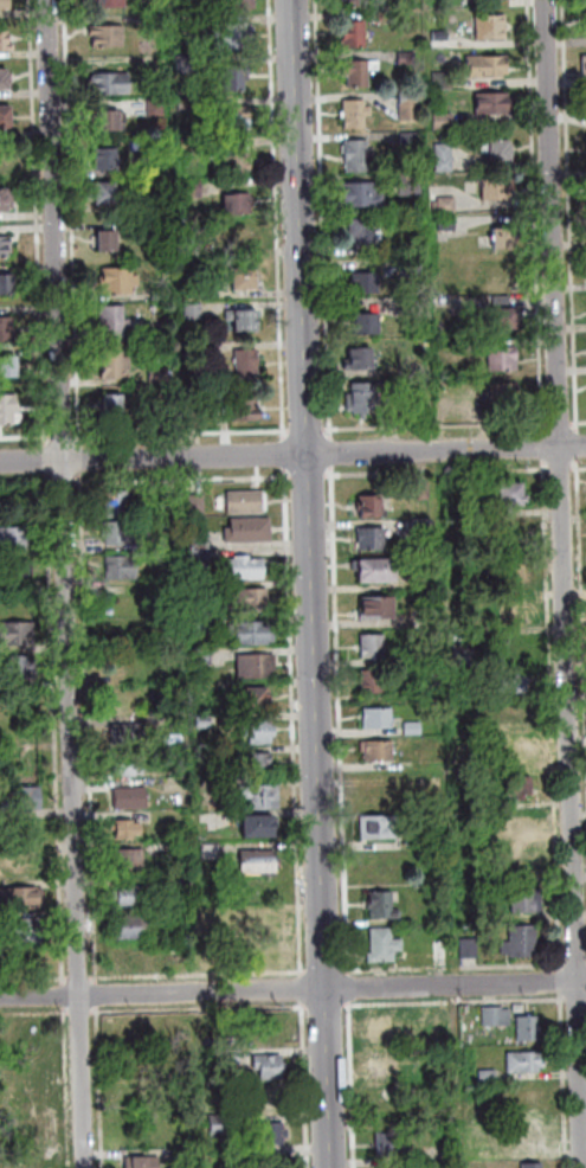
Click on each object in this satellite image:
building: (494, 0)
building: (109, 4)
building: (358, 4)
building: (240, 5)
building: (5, 6)
building: (153, 21)
building: (492, 28)
building: (109, 37)
building: (234, 37)
building: (358, 37)
building: (444, 40)
building: (5, 43)
building: (410, 59)
building: (187, 64)
building: (489, 66)
building: (585, 68)
building: (362, 72)
building: (237, 78)
building: (445, 81)
building: (5, 82)
building: (115, 84)
building: (405, 103)
building: (494, 104)
building: (188, 105)
building: (157, 107)
building: (411, 113)
building: (358, 114)
building: (238, 118)
building: (6, 120)
building: (109, 122)
building: (445, 122)
building: (412, 139)
building: (445, 140)
building: (191, 146)
building: (500, 152)
building: (359, 156)
building: (446, 159)
building: (6, 160)
building: (107, 160)
building: (236, 165)
building: (413, 185)
building: (193, 188)
building: (108, 193)
building: (498, 194)
building: (362, 197)
building: (6, 201)
building: (239, 205)
building: (447, 205)
road: (279, 219)
road: (73, 223)
building: (449, 223)
road: (40, 224)
building: (161, 227)
building: (368, 233)
building: (237, 238)
building: (507, 239)
building: (110, 242)
building: (5, 248)
building: (404, 249)
building: (414, 267)
building: (492, 275)
building: (121, 281)
building: (244, 281)
building: (367, 283)
building: (7, 285)
building: (193, 293)
building: (162, 295)
building: (504, 303)
building: (417, 304)
building: (195, 312)
building: (245, 321)
building: (503, 322)
building: (115, 323)
building: (368, 326)
building: (7, 330)
building: (165, 335)
building: (471, 345)
building: (201, 349)
building: (504, 360)
building: (361, 361)
building: (116, 364)
building: (249, 364)
building: (9, 367)
building: (161, 376)
building: (504, 397)
building: (365, 399)
building: (115, 406)
building: (8, 410)
building: (245, 411)
building: (170, 417)
building: (197, 418)
road: (301, 431)
road: (185, 432)
road: (65, 436)
road: (26, 437)
road: (292, 453)
road: (288, 454)
road: (82, 458)
road: (49, 461)
road: (303, 477)
road: (185, 479)
road: (65, 483)
road: (27, 484)
building: (425, 490)
building: (511, 499)
building: (247, 503)
building: (118, 505)
building: (199, 505)
building: (172, 506)
building: (372, 509)
building: (470, 511)
building: (424, 526)
building: (513, 531)
building: (250, 532)
building: (123, 534)
building: (17, 539)
building: (172, 540)
building: (373, 540)
building: (202, 543)
road: (568, 548)
building: (202, 557)
building: (124, 569)
building: (246, 570)
building: (15, 571)
building: (378, 572)
road: (69, 584)
road: (314, 584)
building: (255, 602)
building: (379, 610)
building: (516, 616)
building: (205, 623)
building: (17, 634)
building: (253, 634)
building: (462, 635)
building: (374, 648)
building: (468, 656)
building: (206, 657)
building: (257, 667)
building: (15, 669)
building: (135, 670)
building: (374, 682)
building: (513, 684)
building: (472, 695)
building: (258, 701)
building: (380, 719)
road: (297, 721)
building: (205, 723)
road: (57, 729)
road: (91, 729)
building: (414, 730)
building: (260, 732)
building: (129, 736)
building: (379, 752)
building: (522, 753)
building: (210, 758)
building: (129, 765)
building: (258, 765)
building: (524, 788)
building: (264, 797)
building: (133, 798)
building: (28, 800)
building: (129, 829)
building: (259, 829)
building: (381, 829)
building: (519, 829)
building: (476, 840)
building: (212, 852)
building: (130, 861)
building: (30, 865)
building: (260, 865)
building: (133, 897)
building: (26, 899)
building: (529, 903)
building: (386, 906)
building: (270, 926)
building: (131, 928)
building: (31, 932)
building: (523, 944)
building: (386, 949)
building: (471, 950)
building: (443, 952)
building: (270, 954)
road: (317, 973)
road: (199, 975)
road: (82, 978)
road: (36, 980)
road: (292, 990)
road: (304, 990)
road: (101, 995)
road: (66, 997)
road: (318, 1007)
road: (201, 1010)
road: (36, 1013)
road: (83, 1013)
building: (498, 1019)
building: (530, 1031)
building: (387, 1032)
building: (233, 1058)
building: (270, 1064)
building: (527, 1064)
building: (393, 1068)
building: (490, 1077)
road: (309, 1085)
road: (103, 1086)
road: (69, 1087)
building: (273, 1098)
building: (223, 1125)
building: (273, 1134)
building: (532, 1141)
building: (393, 1147)
building: (490, 1156)
building: (186, 1157)
building: (144, 1162)
building: (535, 1167)

